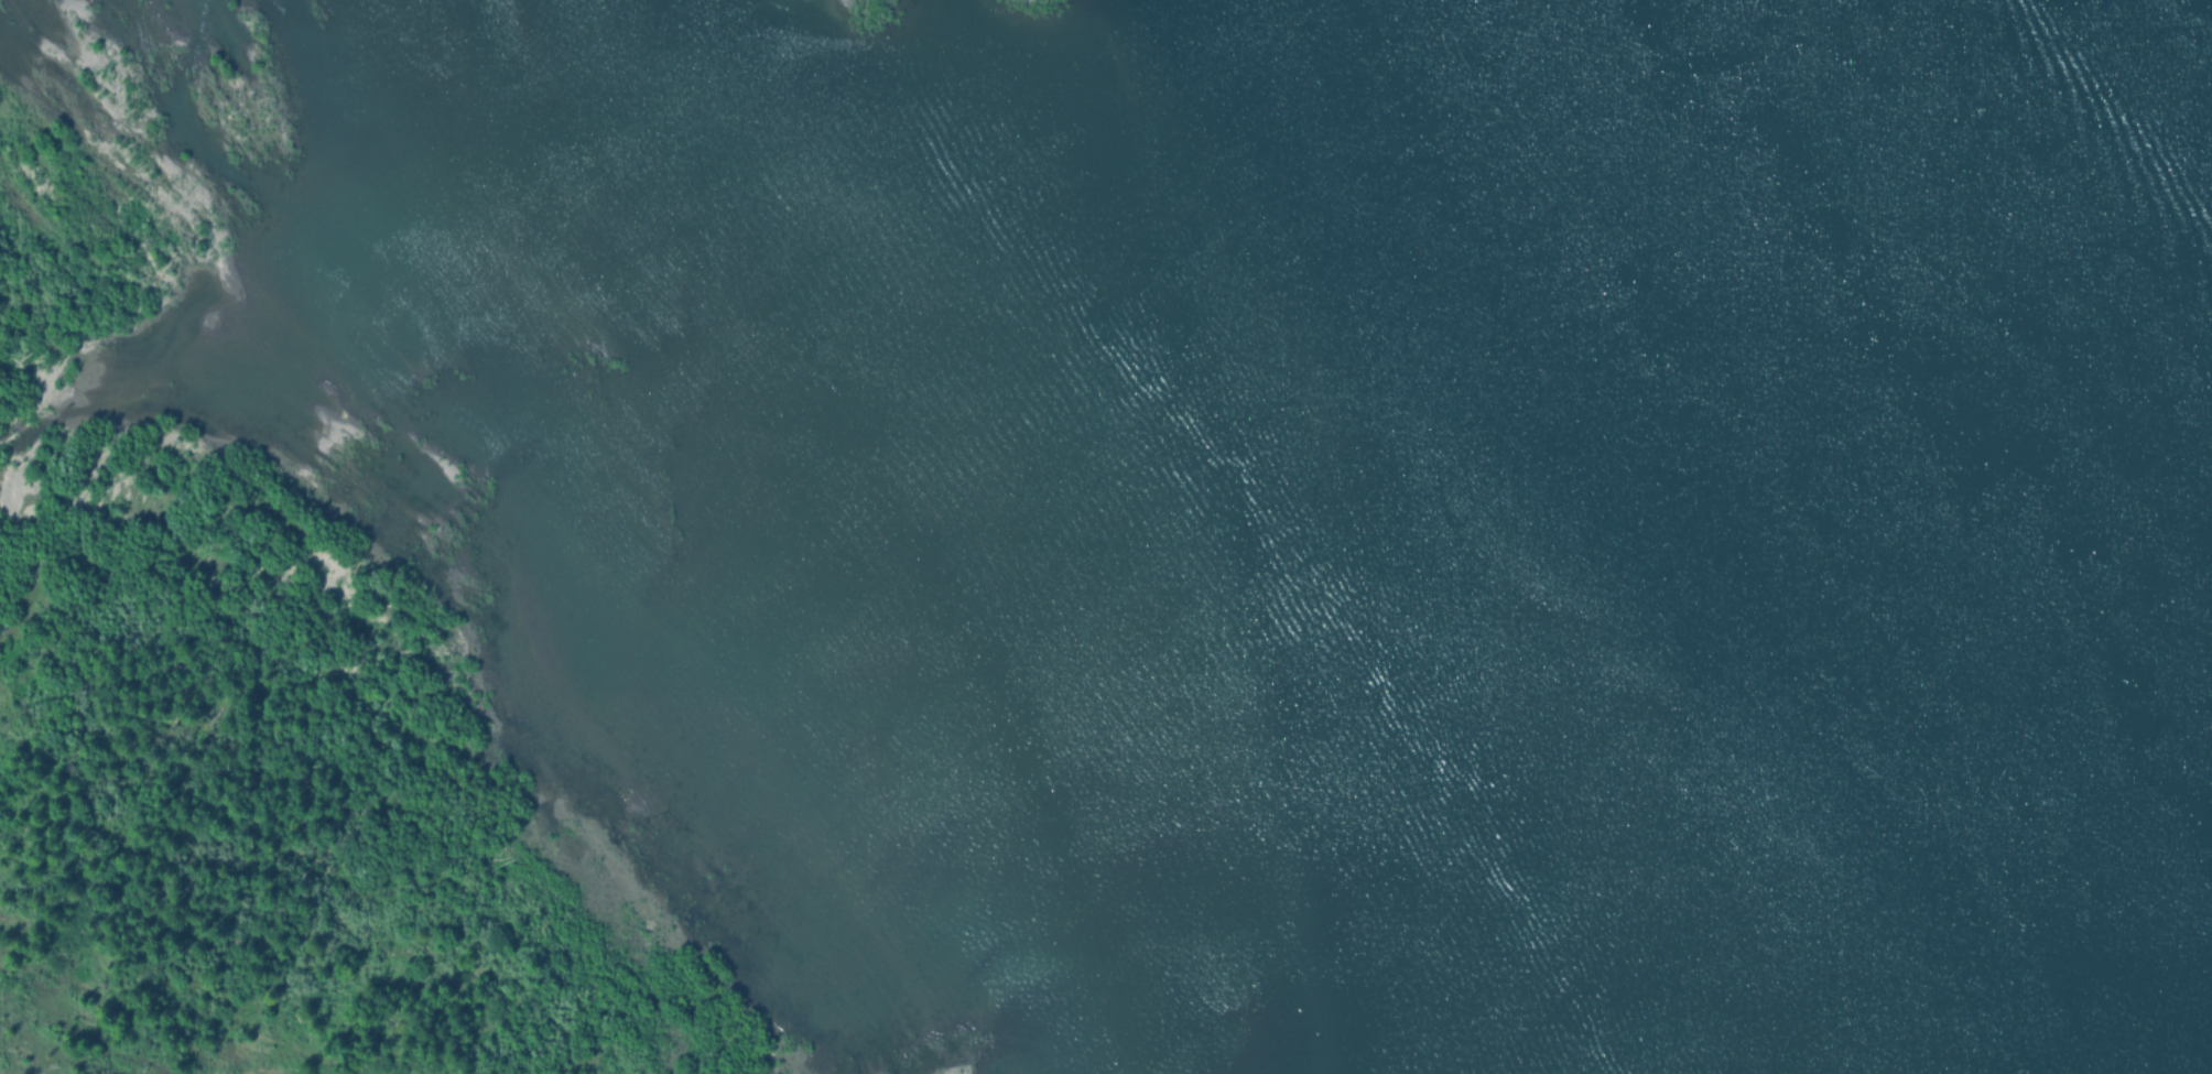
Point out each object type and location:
river: (2021, 291)

